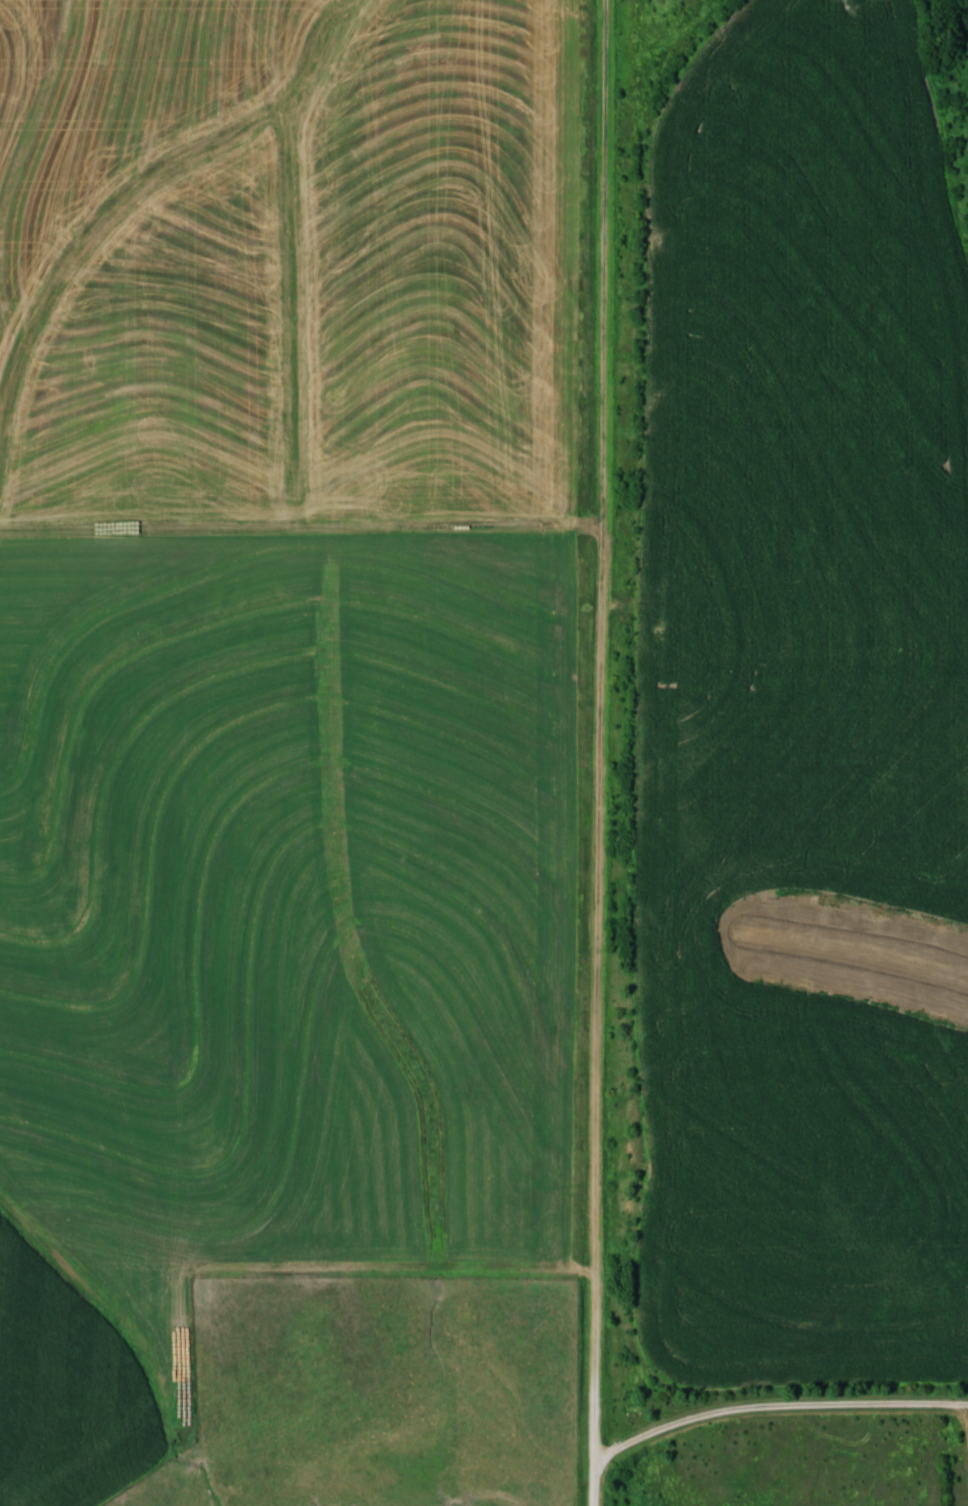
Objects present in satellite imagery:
road: (601, 752)
road: (777, 1411)

